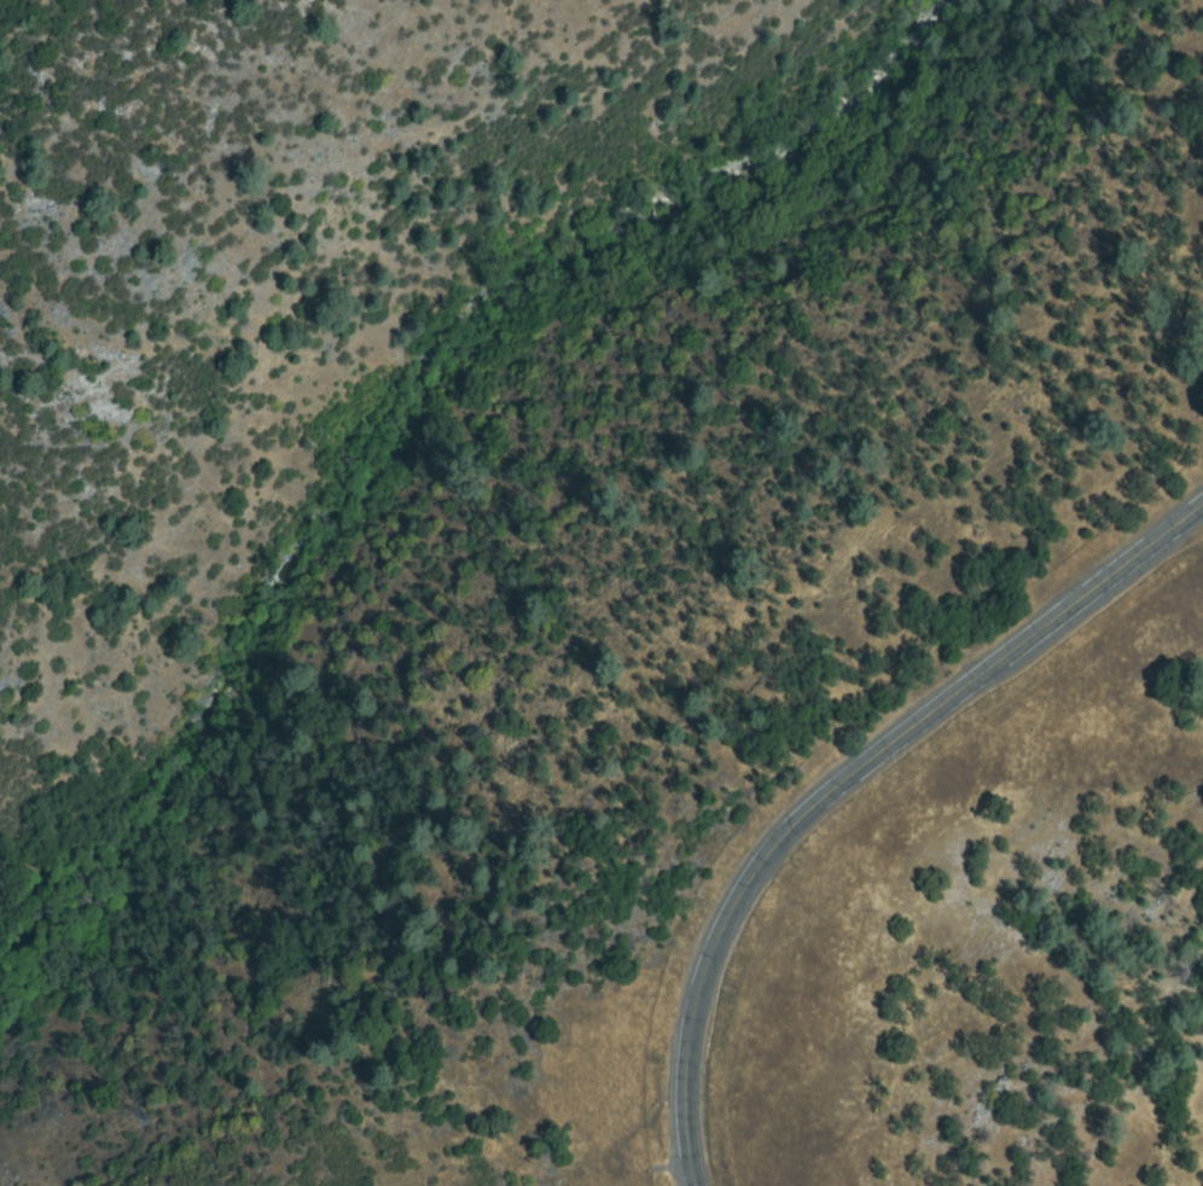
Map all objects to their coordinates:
road: (842, 780)

